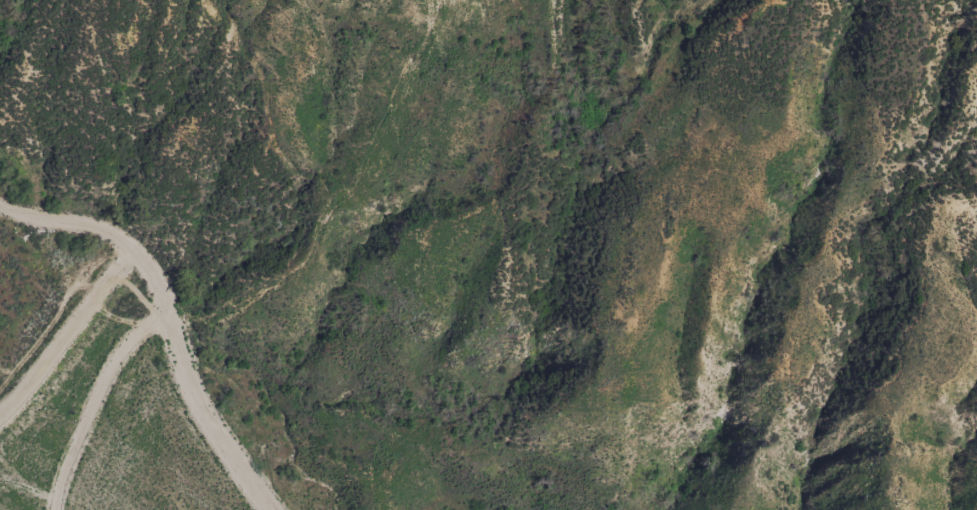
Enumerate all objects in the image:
road: (70, 228)
road: (64, 334)
road: (186, 390)
road: (90, 399)

